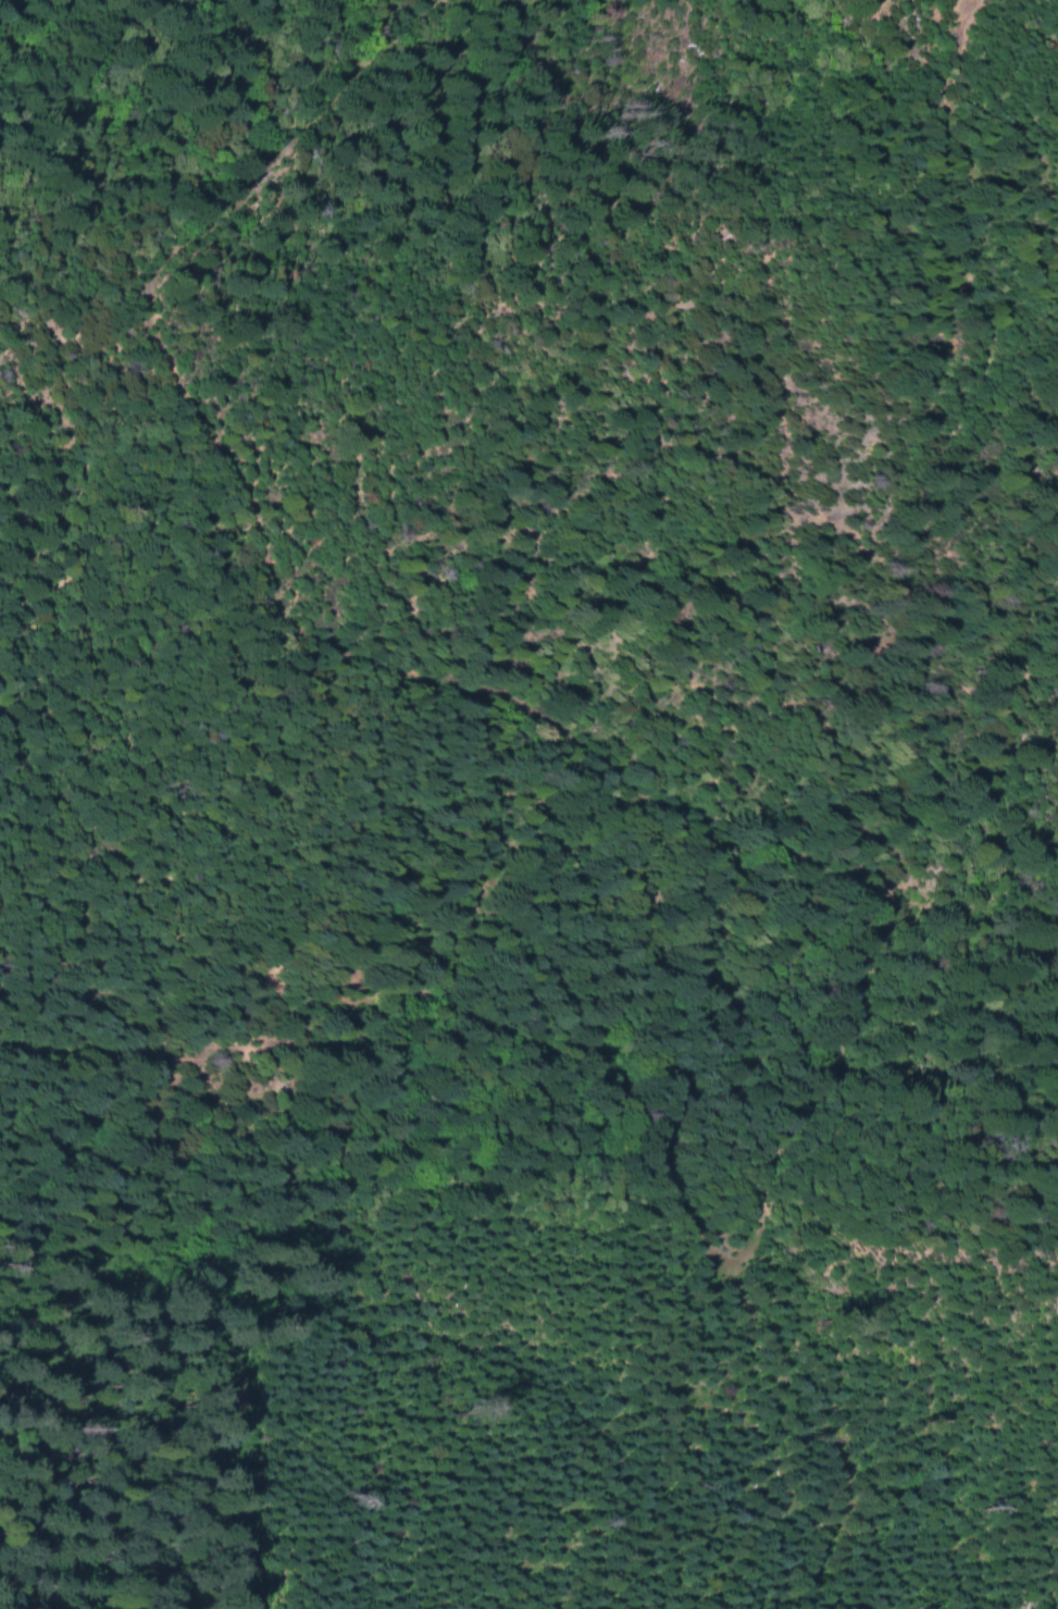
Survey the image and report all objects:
road: (232, 1496)

